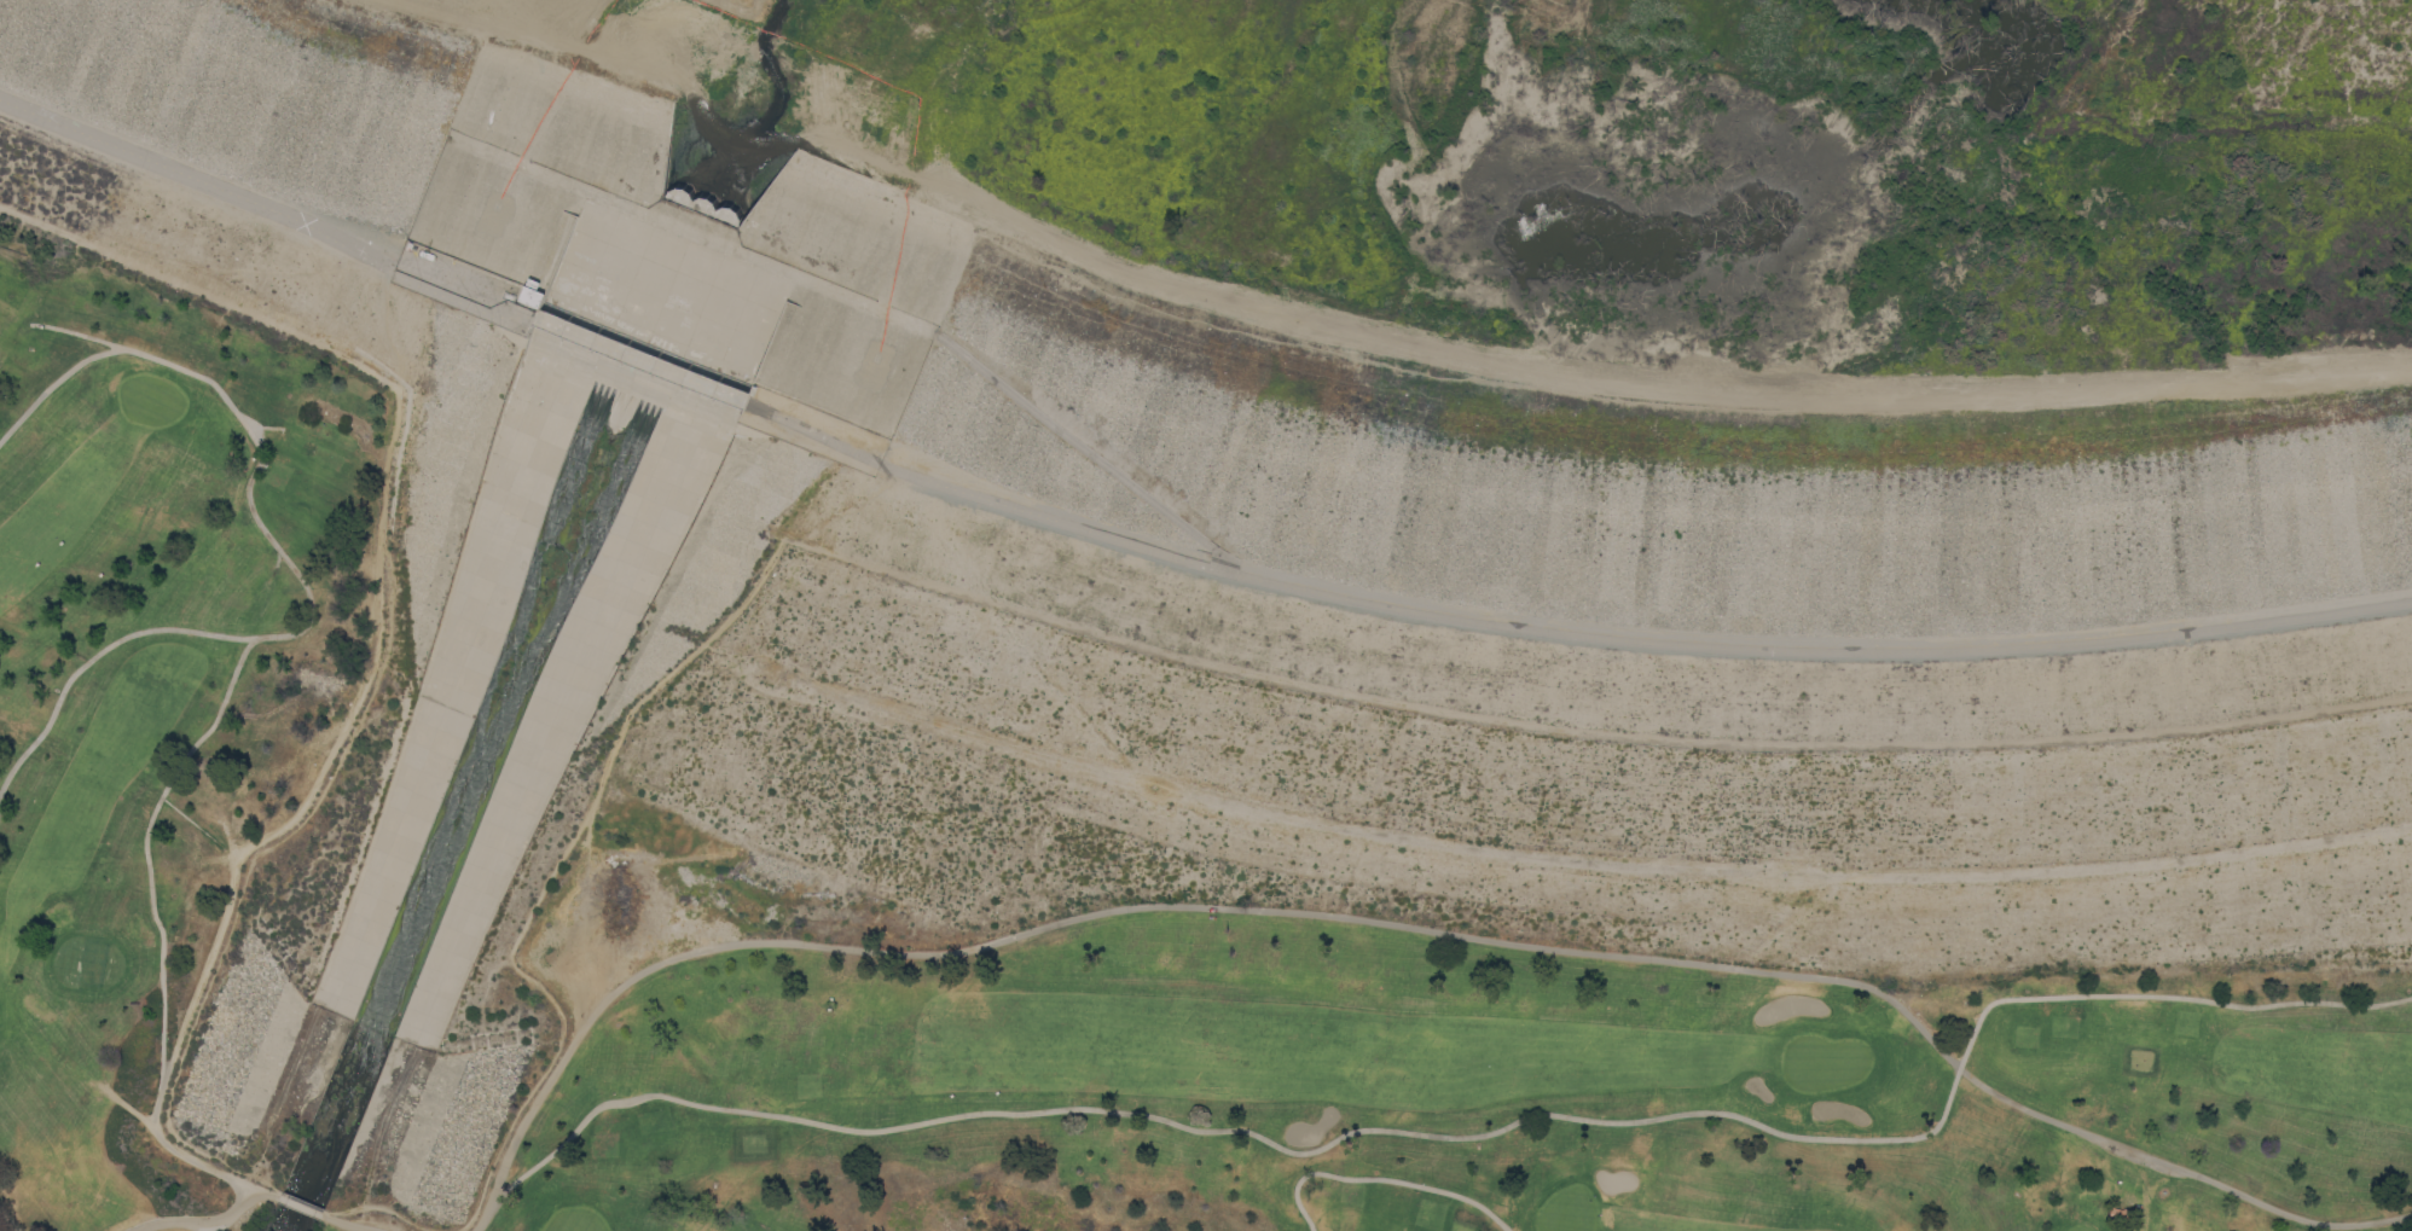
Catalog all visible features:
river: (753, 103)
dam: (1109, 190)
road: (269, 208)
building: (408, 244)
building: (530, 294)
storage tank: (509, 296)
river: (661, 303)
road: (349, 317)
road: (392, 320)
road: (81, 333)
road: (1370, 336)
road: (640, 359)
park: (150, 400)
dam: (209, 432)
road: (812, 432)
park: (341, 440)
road: (1090, 454)
dam: (2248, 465)
park: (278, 475)
park: (314, 495)
road: (848, 505)
park: (307, 526)
park: (1072, 614)
road: (307, 625)
road: (389, 635)
road: (1635, 641)
road: (95, 656)
dam: (511, 678)
park: (1048, 737)
dam: (1622, 861)
road: (1399, 927)
park: (87, 963)
dam: (332, 1011)
park: (2049, 1030)
road: (169, 1057)
park: (1822, 1062)
park: (622, 1085)
road: (282, 1091)
road: (383, 1122)
road: (1477, 1136)
park: (637, 1137)
road: (1384, 1178)
park: (1390, 1200)
road: (298, 1207)
park: (1566, 1210)
park: (1439, 1213)
building: (2118, 1215)
road: (8, 1219)
park: (74, 1219)
park: (575, 1220)
road: (199, 1221)
road: (342, 1224)
park: (2080, 1227)

